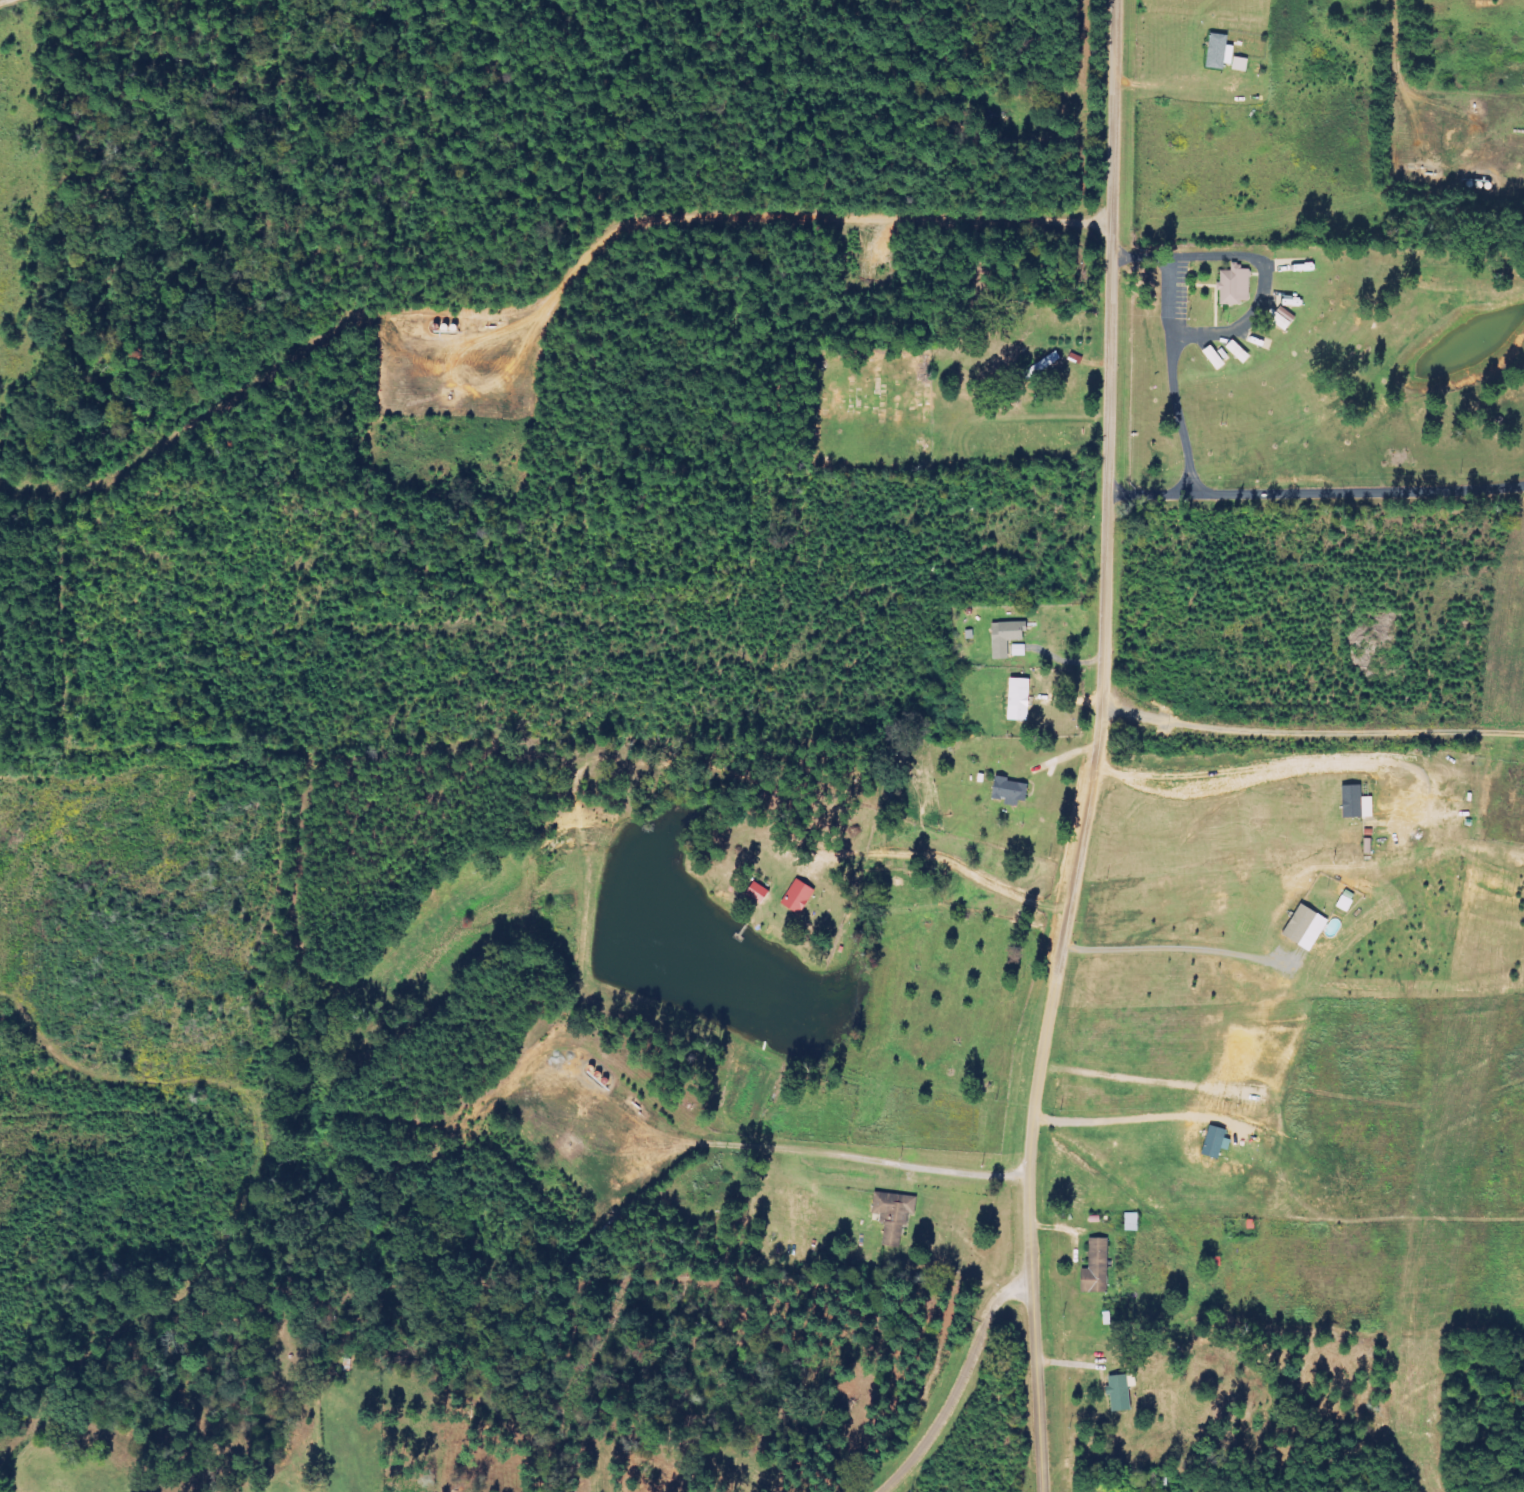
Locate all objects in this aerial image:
building: (1223, 51)
building: (1243, 64)
building: (1236, 286)
road: (1263, 292)
road: (1171, 344)
building: (1241, 352)
building: (1217, 358)
road: (1314, 490)
building: (1007, 638)
building: (1020, 650)
building: (1022, 700)
road: (1097, 748)
road: (1275, 769)
building: (1012, 791)
building: (1358, 803)
road: (974, 875)
building: (761, 893)
building: (801, 897)
building: (1348, 901)
building: (1308, 928)
road: (1170, 946)
road: (1114, 1119)
building: (1218, 1142)
building: (892, 1217)
building: (1133, 1223)
building: (1098, 1269)
building: (1123, 1391)

